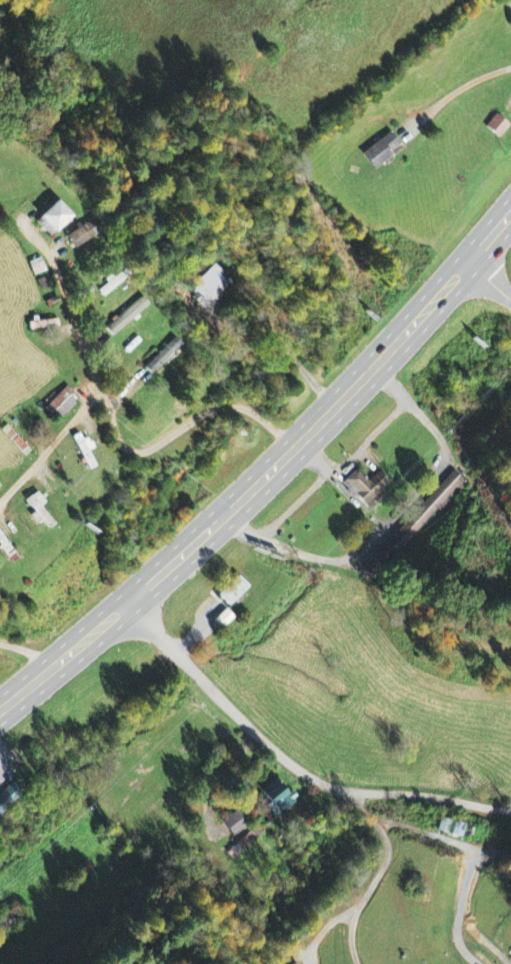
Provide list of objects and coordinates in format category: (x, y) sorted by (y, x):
road: (508, 2)
building: (496, 127)
building: (380, 151)
building: (51, 219)
building: (82, 234)
road: (490, 283)
building: (126, 318)
building: (162, 357)
building: (61, 404)
road: (123, 428)
road: (53, 446)
road: (265, 472)
building: (367, 489)
building: (37, 509)
building: (428, 511)
building: (6, 552)
building: (232, 592)
road: (23, 661)
road: (292, 765)
building: (8, 797)
building: (277, 799)
building: (234, 825)
building: (9, 920)

